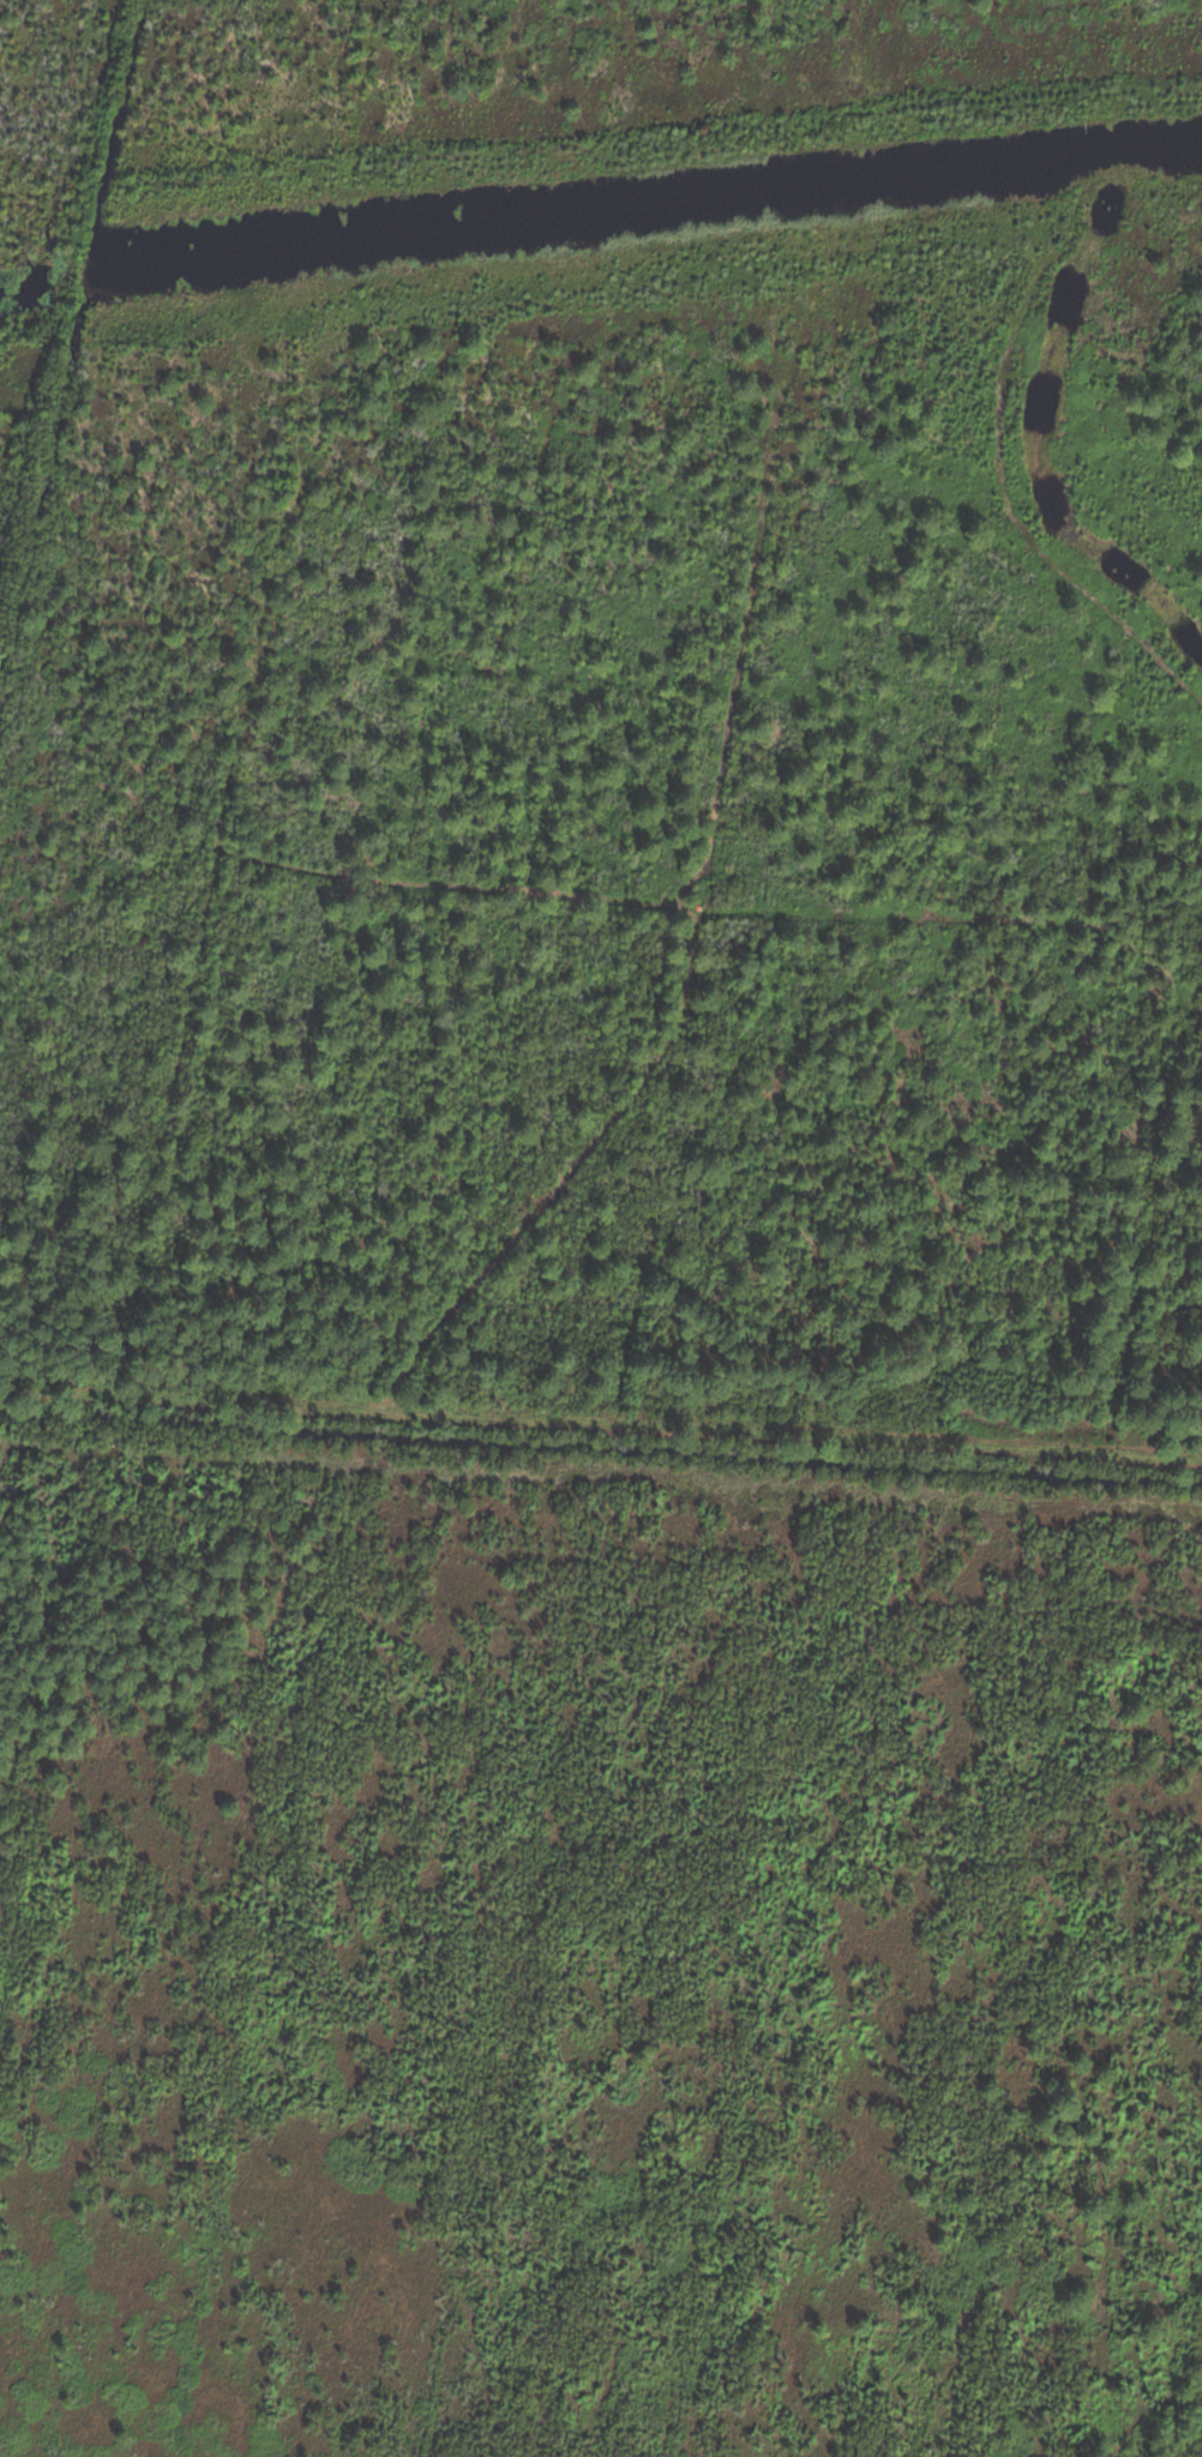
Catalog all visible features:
road: (601, 1422)
road: (601, 1474)

